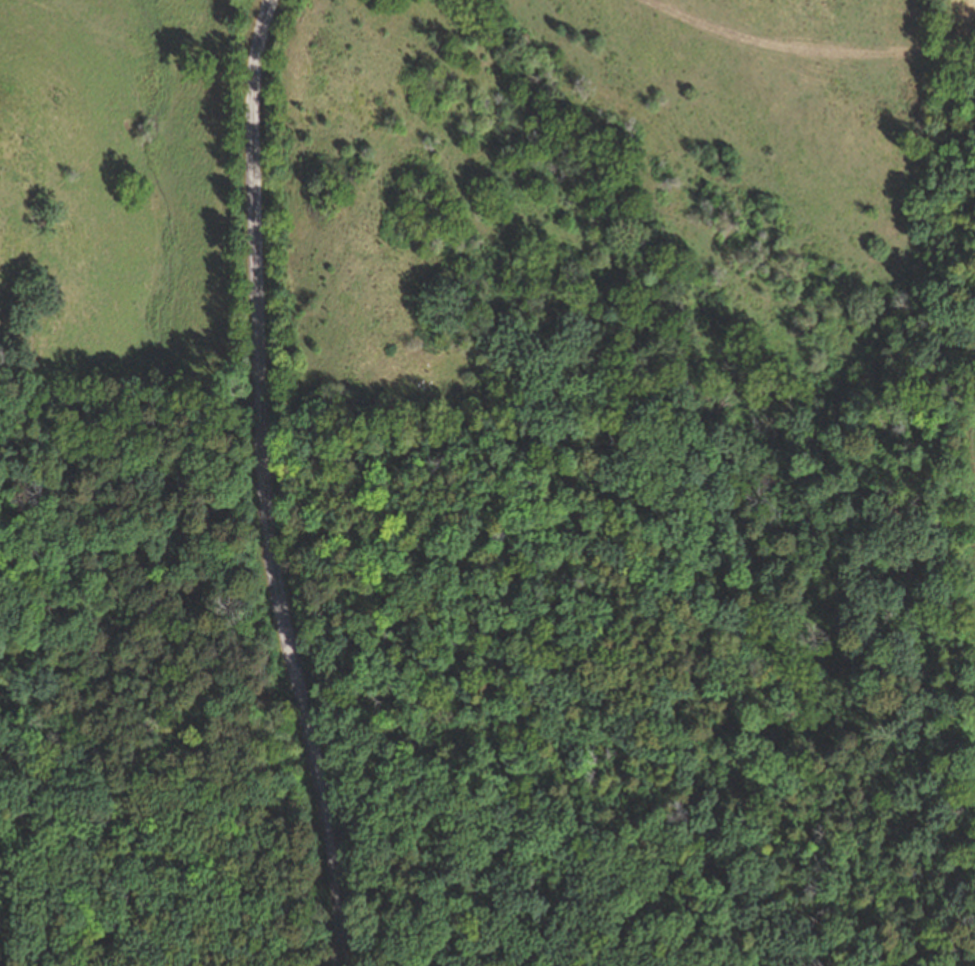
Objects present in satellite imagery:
road: (268, 485)

